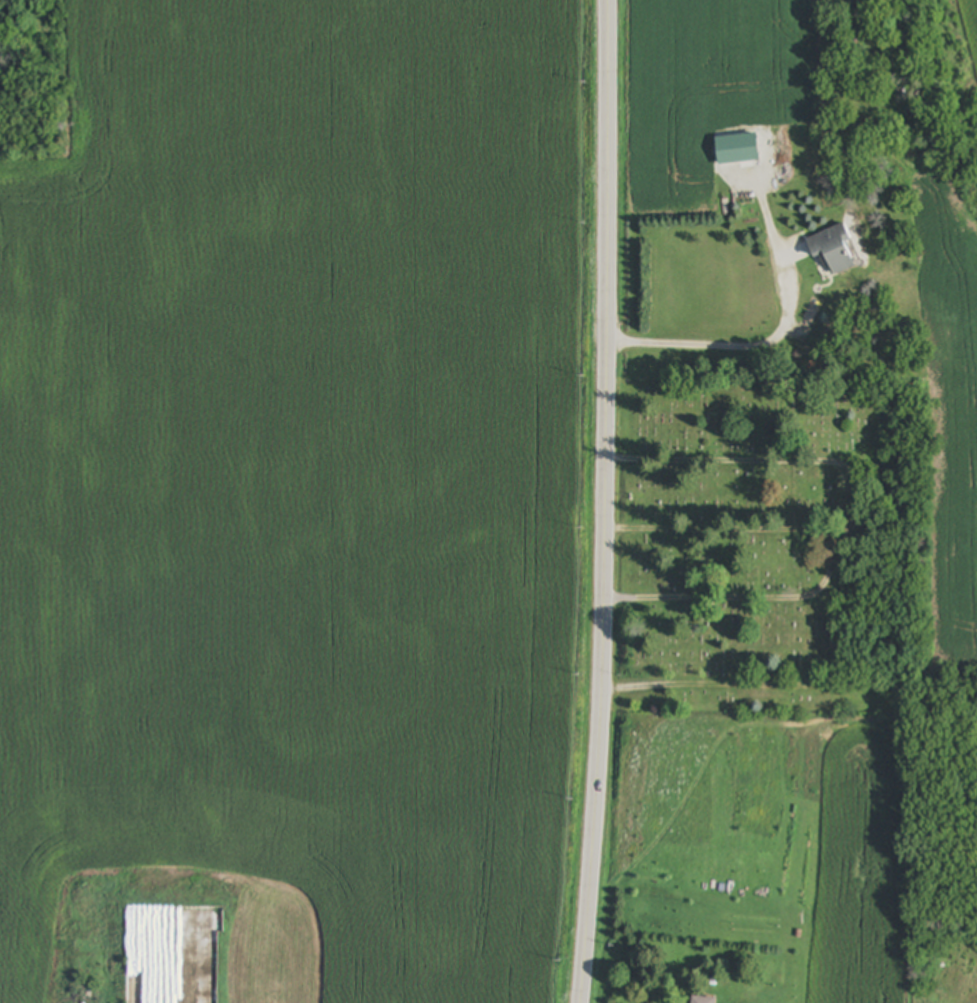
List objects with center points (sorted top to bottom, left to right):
building: (765, 168)
building: (835, 250)
road: (748, 347)
road: (609, 501)
road: (869, 520)
park: (764, 549)
building: (704, 999)

